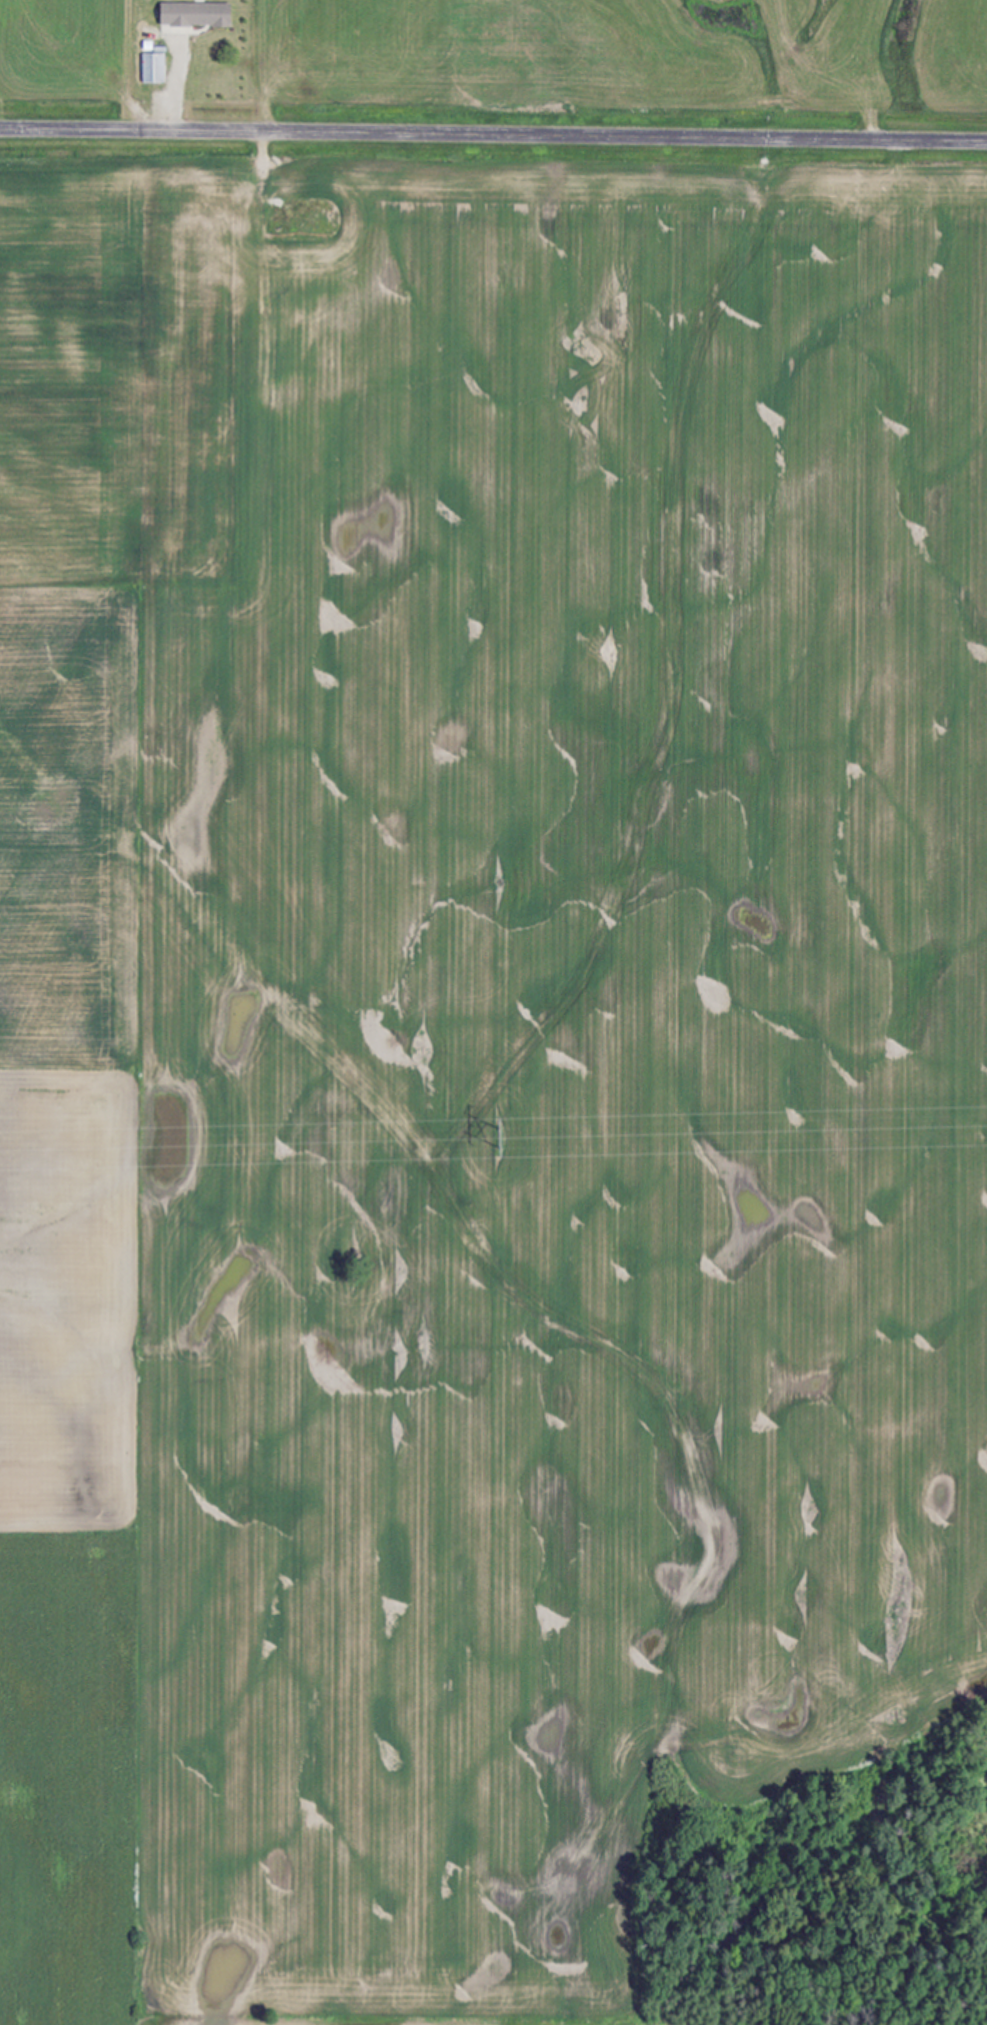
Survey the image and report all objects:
building: (195, 15)
road: (177, 92)
road: (493, 131)
power tower: (495, 1140)

